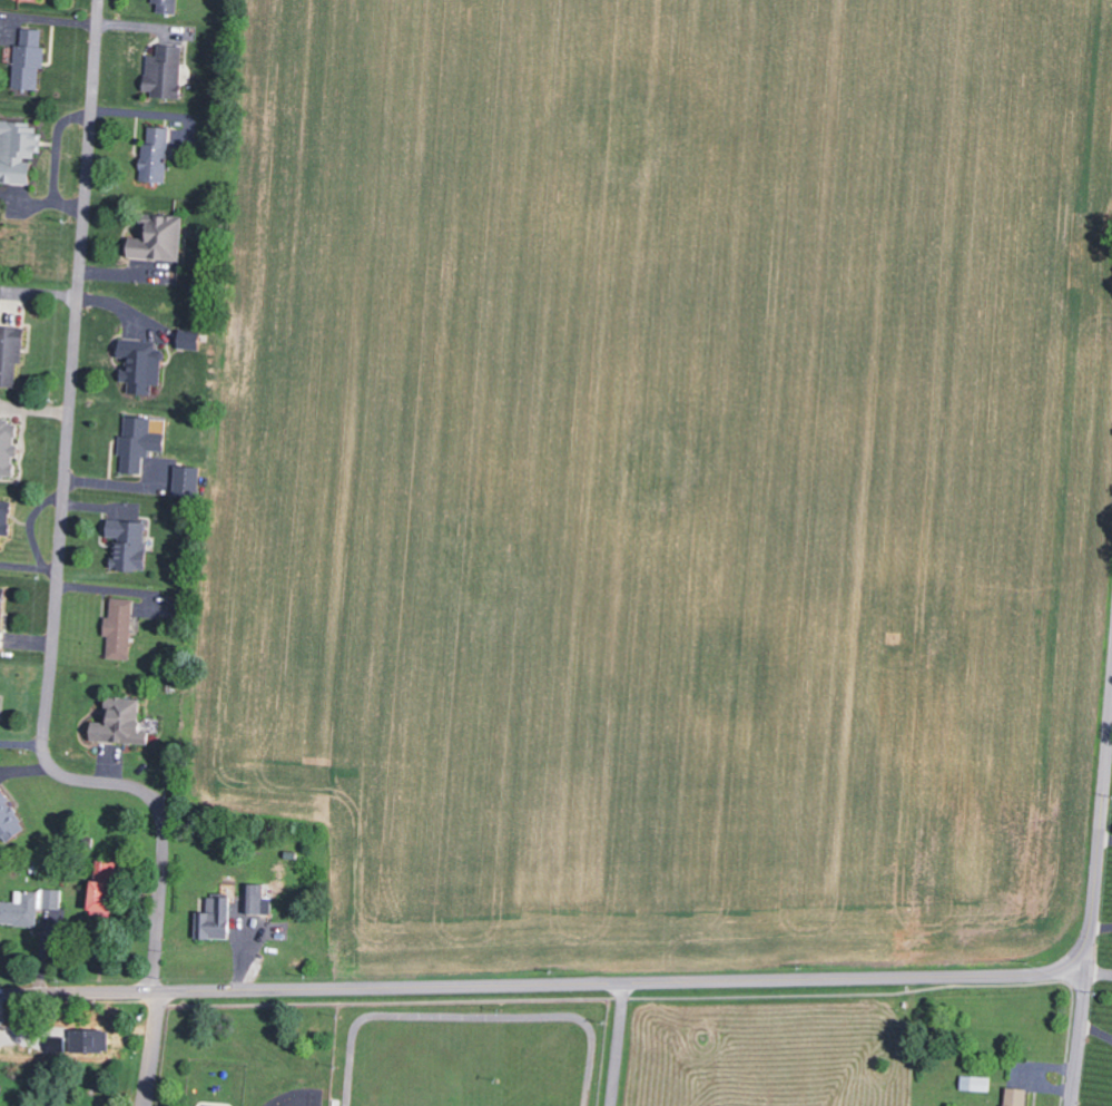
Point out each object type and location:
building: (167, 6)
building: (29, 58)
building: (165, 70)
building: (18, 150)
building: (156, 154)
building: (159, 238)
building: (190, 343)
building: (10, 353)
building: (141, 364)
building: (138, 443)
building: (8, 446)
building: (187, 481)
building: (4, 517)
building: (129, 544)
road: (56, 591)
building: (1, 614)
building: (120, 628)
building: (122, 722)
building: (10, 819)
road: (1099, 846)
building: (106, 885)
building: (257, 899)
building: (29, 907)
building: (216, 919)
road: (1099, 972)
road: (543, 983)
road: (1079, 1038)
road: (617, 1044)
building: (976, 1083)
building: (1017, 1096)

